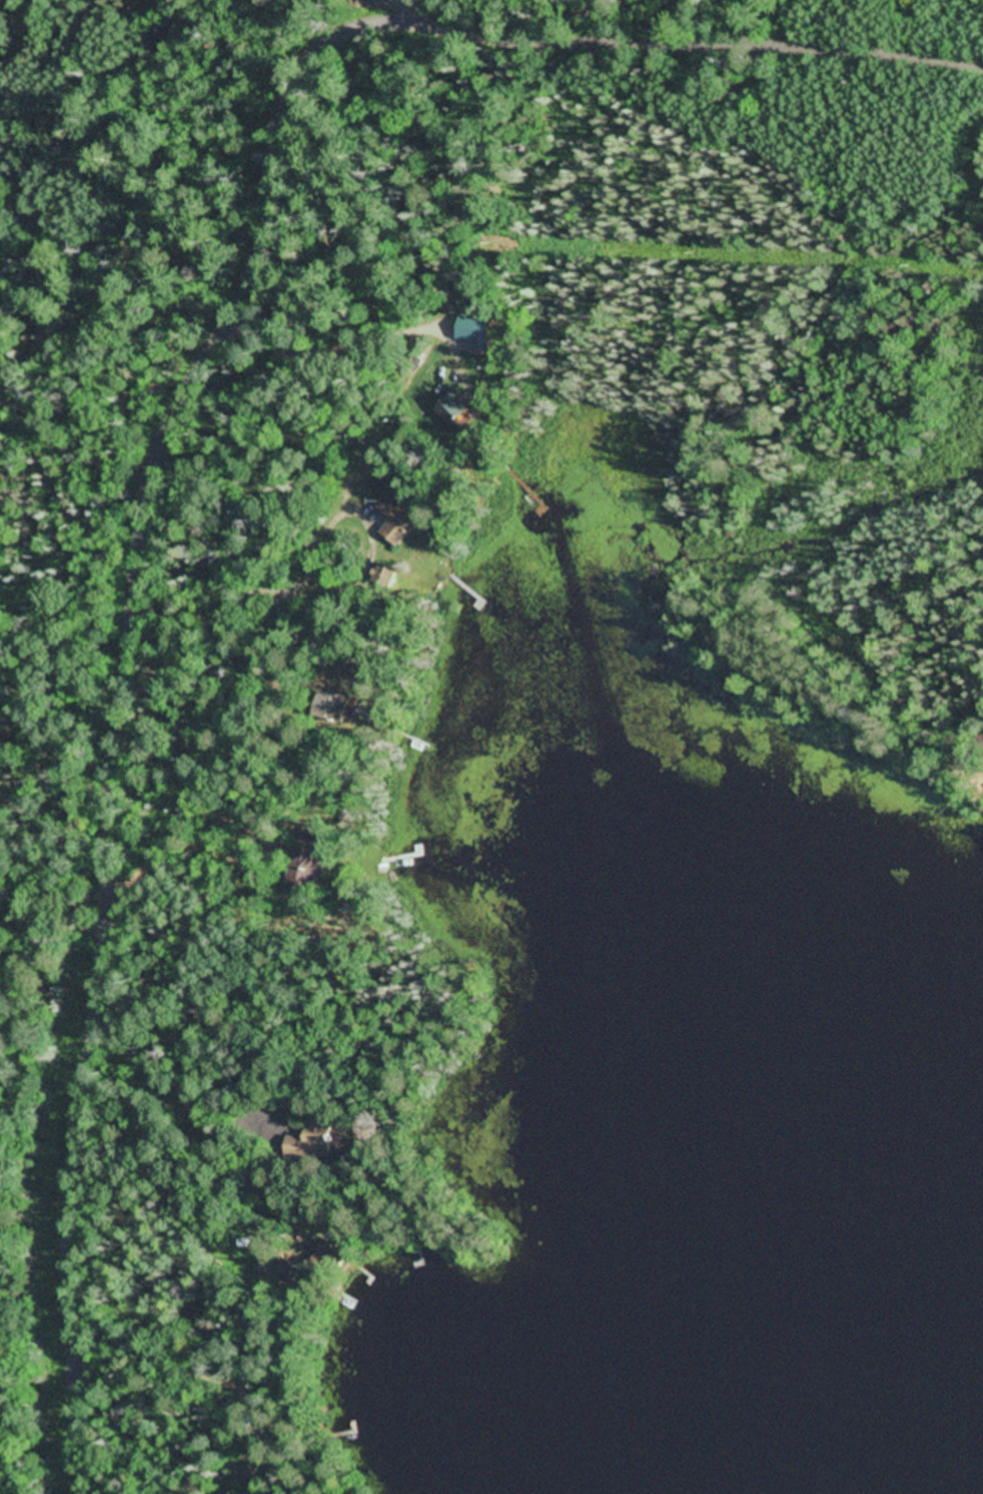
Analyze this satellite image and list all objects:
road: (173, 419)
building: (397, 519)
building: (335, 707)
building: (305, 866)
building: (313, 1141)

